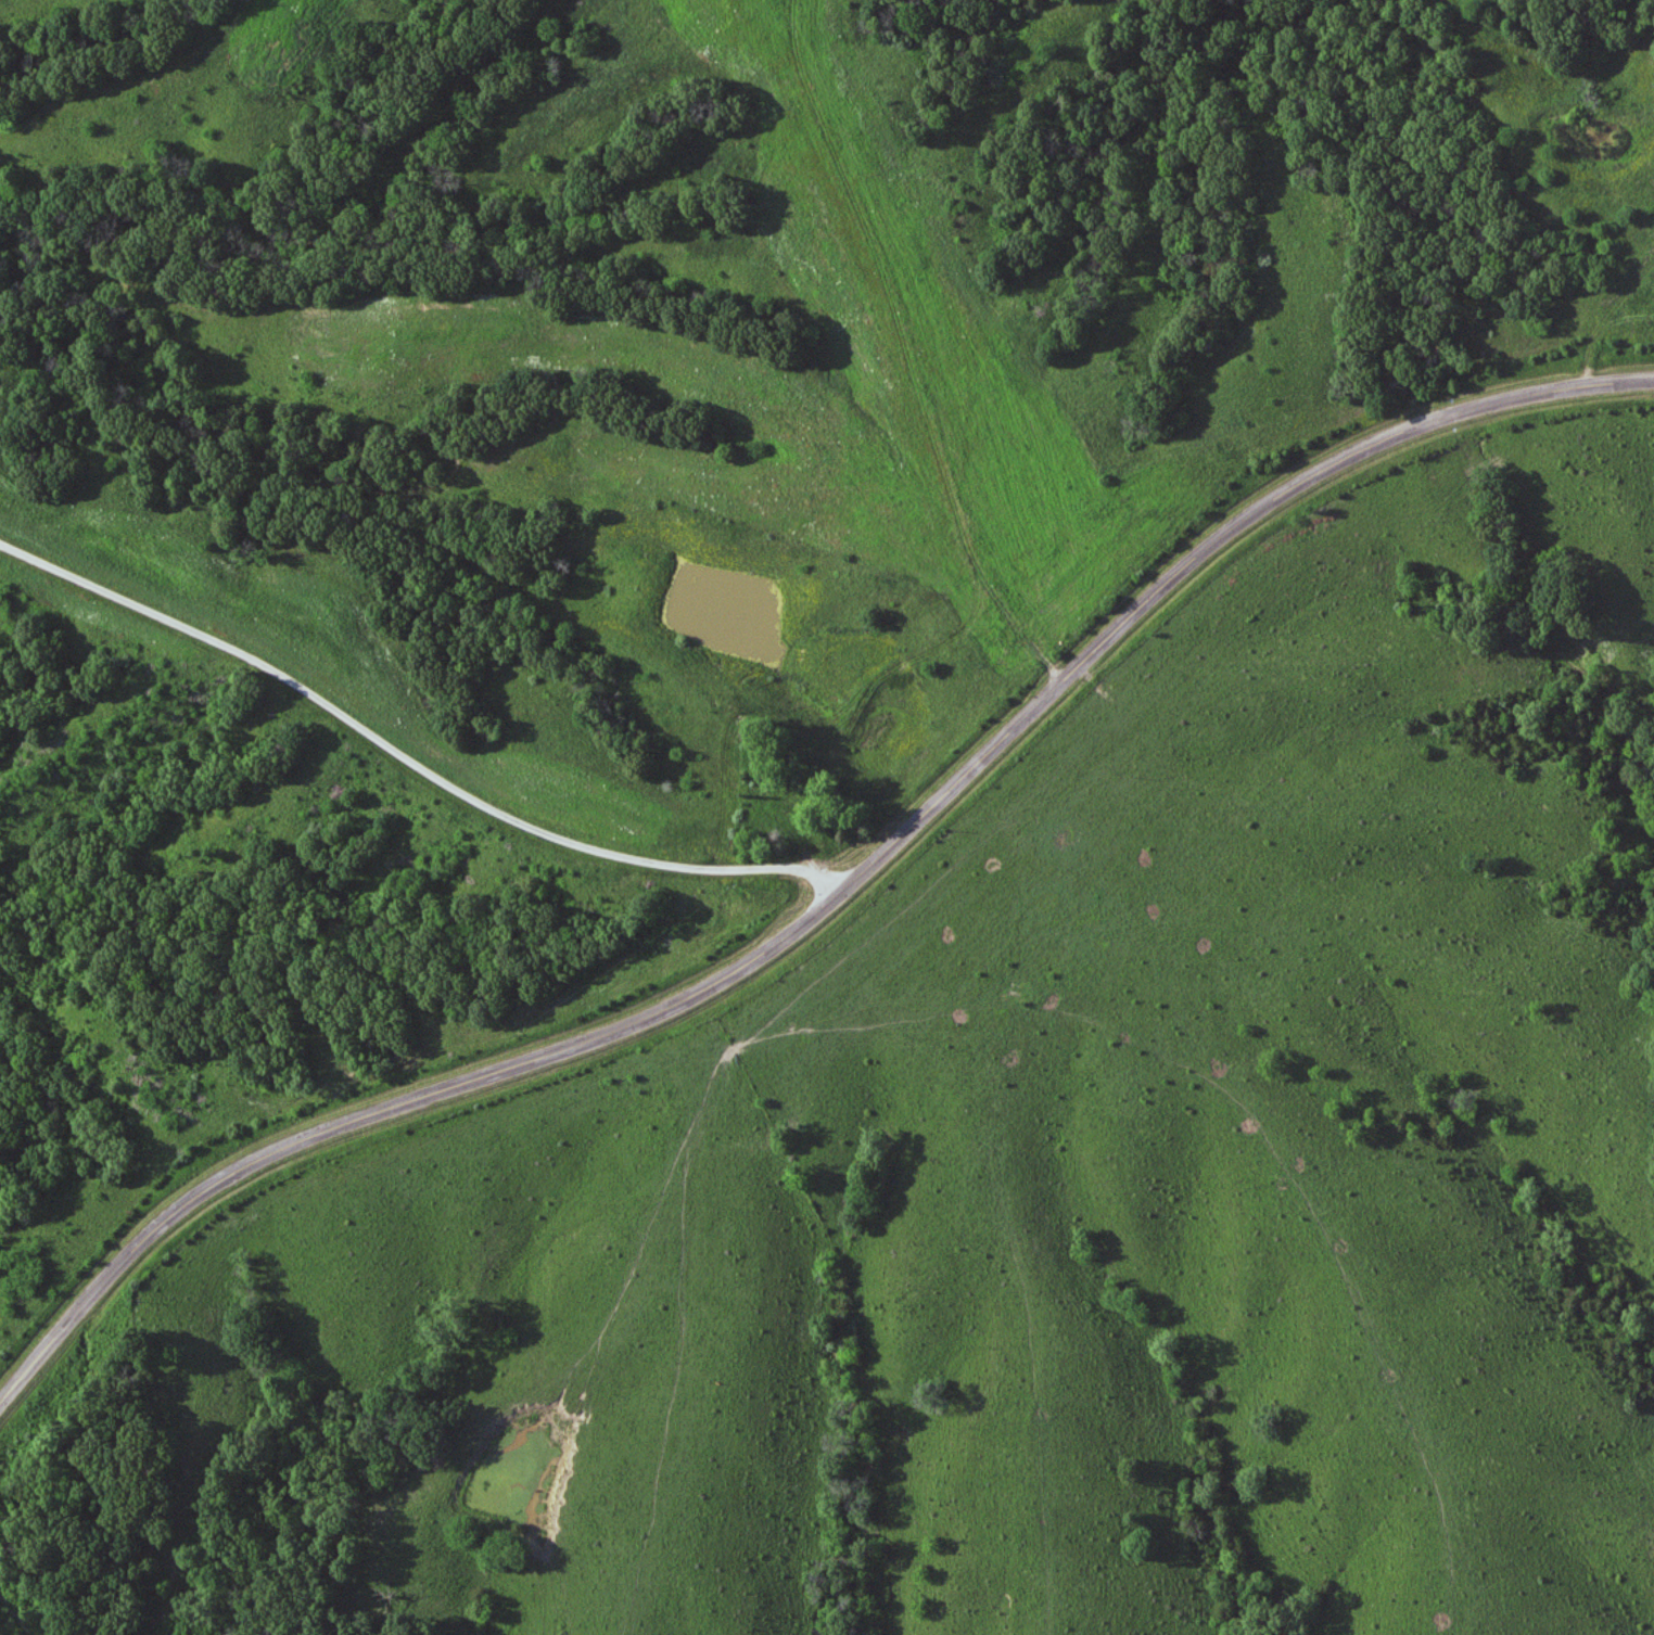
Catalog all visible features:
road: (410, 750)
road: (839, 894)

